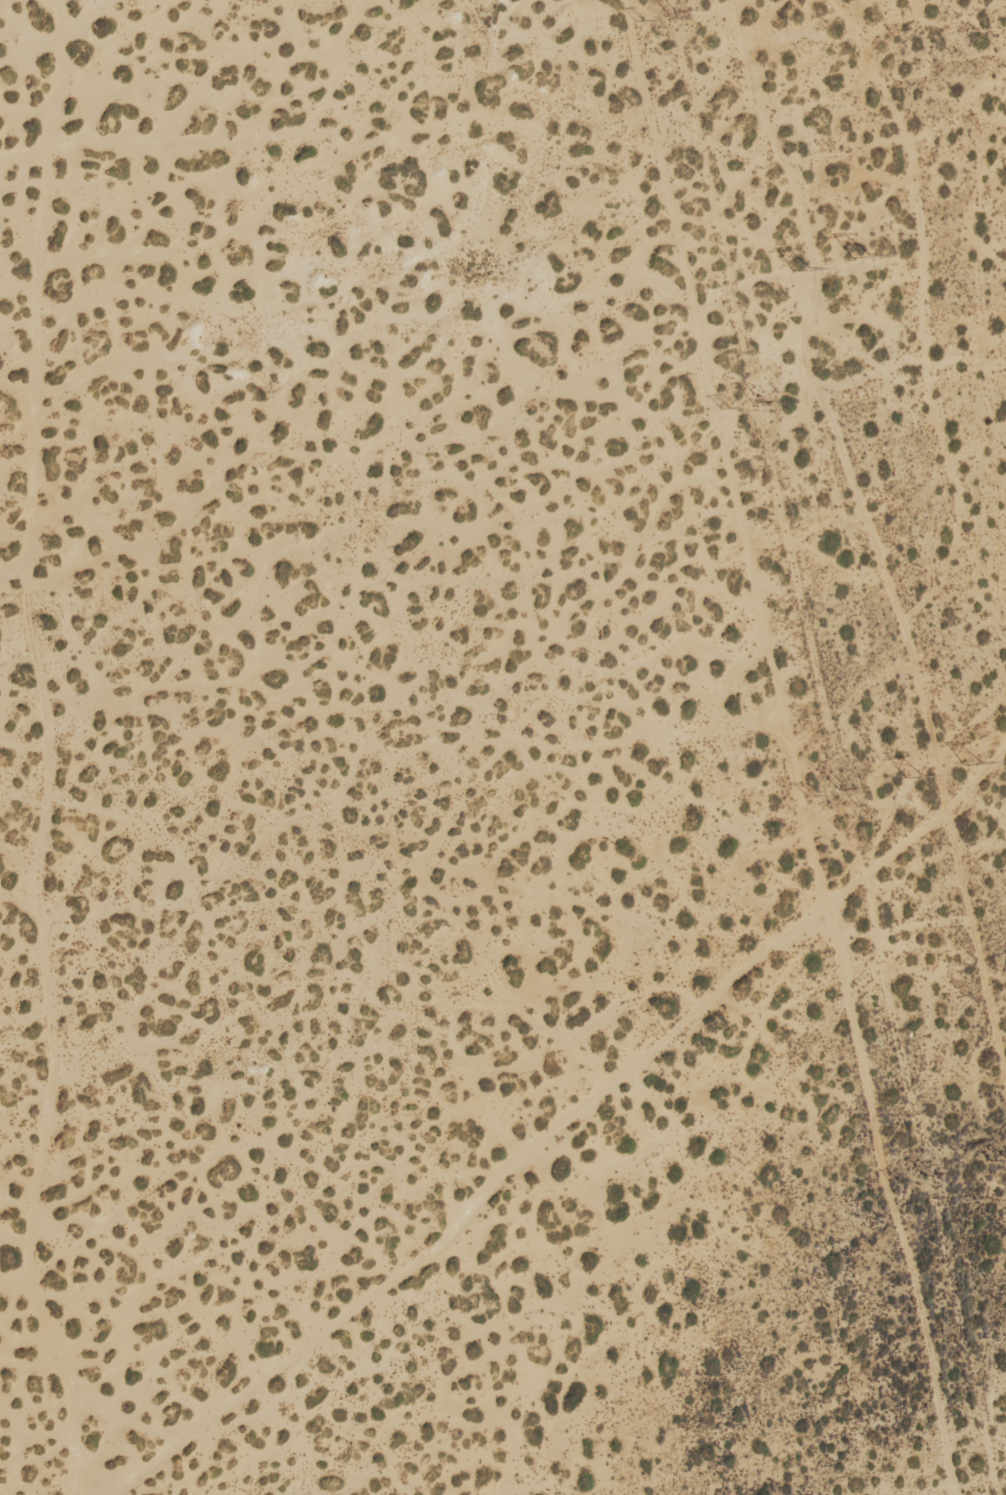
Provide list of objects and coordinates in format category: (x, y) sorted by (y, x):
power tower: (860, 254)
power tower: (801, 266)
power tower: (970, 761)
power tower: (912, 776)
power tower: (995, 1156)

